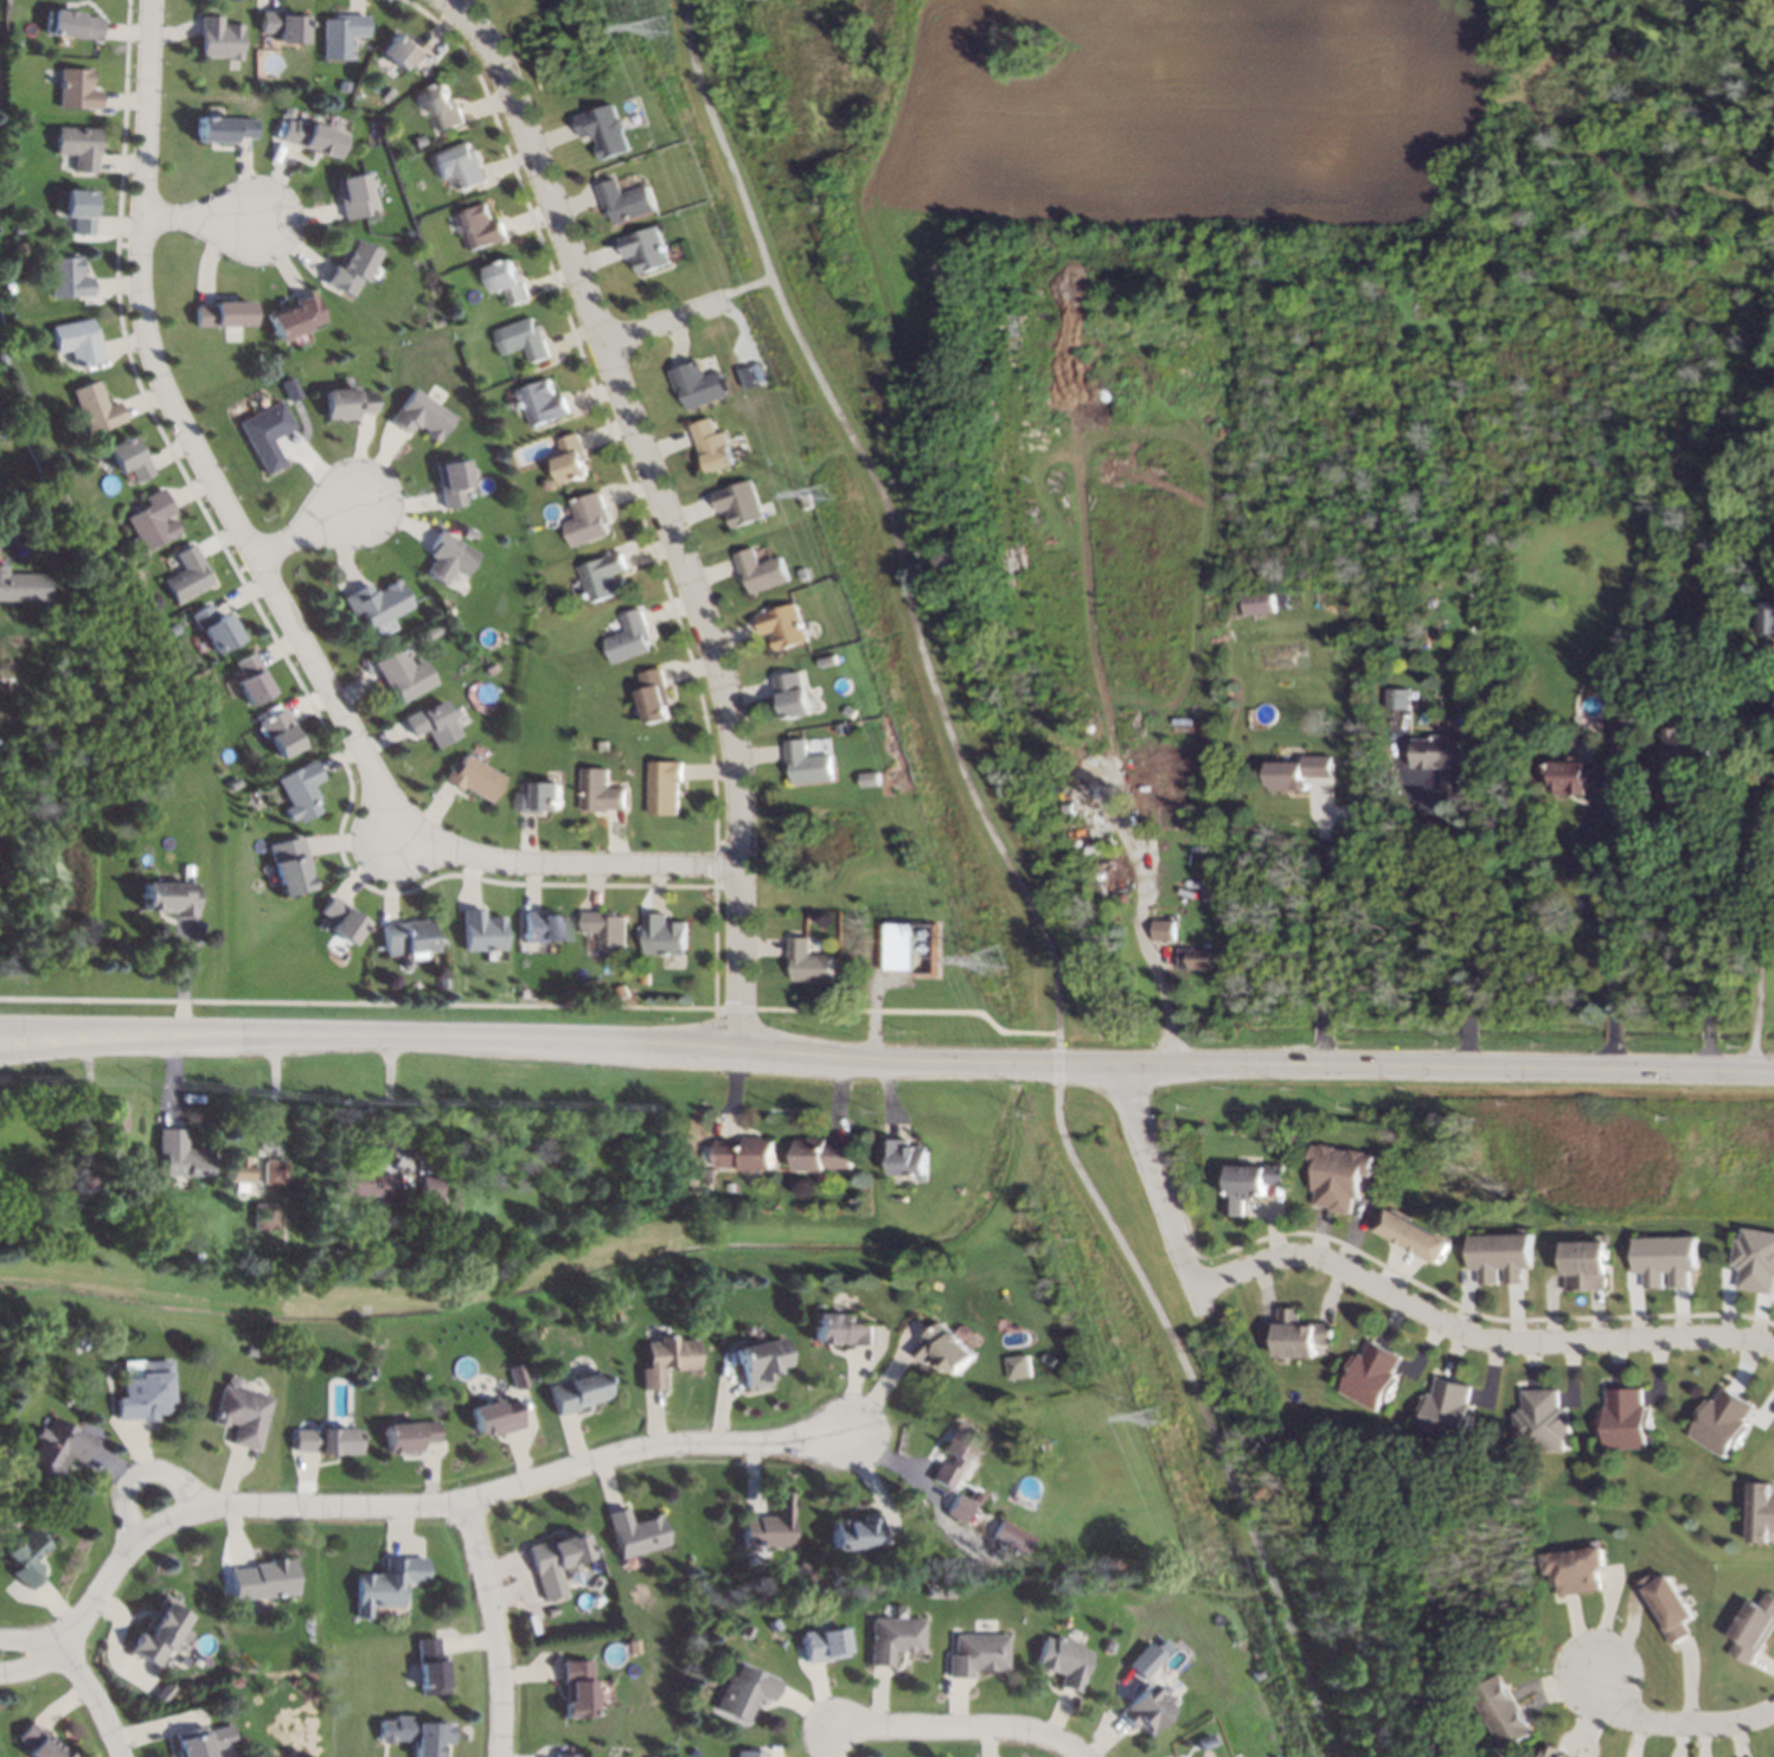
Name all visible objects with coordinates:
building: (70, 25)
building: (280, 25)
building: (339, 33)
building: (217, 38)
building: (401, 51)
building: (76, 90)
building: (385, 91)
building: (442, 108)
building: (284, 111)
building: (219, 129)
building: (606, 130)
building: (307, 137)
crop: (1120, 139)
building: (78, 147)
building: (460, 166)
building: (353, 197)
building: (626, 201)
building: (79, 211)
road: (205, 217)
building: (479, 227)
building: (19, 229)
building: (647, 249)
building: (350, 268)
building: (70, 278)
building: (507, 282)
road: (743, 286)
building: (224, 314)
building: (294, 316)
road: (661, 319)
building: (523, 340)
building: (79, 341)
building: (4, 359)
building: (697, 385)
building: (290, 389)
building: (346, 403)
building: (542, 404)
building: (510, 405)
building: (96, 409)
building: (420, 416)
building: (267, 434)
road: (199, 441)
building: (711, 447)
building: (570, 459)
building: (129, 460)
building: (449, 482)
building: (547, 485)
building: (806, 501)
building: (738, 504)
road: (664, 511)
road: (891, 514)
building: (585, 519)
road: (314, 521)
building: (150, 522)
park: (888, 524)
building: (446, 558)
building: (760, 570)
building: (801, 572)
building: (1768, 572)
building: (187, 575)
building: (602, 578)
building: (76, 583)
building: (24, 586)
building: (374, 603)
building: (1259, 603)
building: (1765, 620)
building: (783, 626)
building: (216, 628)
building: (174, 629)
building: (431, 630)
building: (630, 637)
building: (1654, 640)
building: (828, 661)
building: (489, 668)
building: (402, 674)
building: (251, 679)
building: (794, 694)
building: (655, 697)
building: (1398, 699)
building: (1763, 701)
building: (850, 712)
building: (430, 723)
building: (278, 733)
building: (1621, 733)
building: (602, 744)
building: (1683, 750)
building: (1441, 757)
building: (808, 763)
building: (1296, 772)
building: (1583, 776)
building: (472, 777)
building: (232, 784)
building: (666, 787)
building: (300, 791)
building: (601, 791)
building: (542, 797)
building: (1717, 815)
building: (1091, 847)
road: (576, 864)
building: (289, 865)
building: (187, 870)
road: (1567, 874)
road: (1755, 889)
road: (1474, 897)
building: (171, 898)
building: (1120, 898)
road: (1315, 915)
building: (815, 918)
building: (341, 921)
road: (1683, 921)
building: (542, 926)
building: (1159, 929)
building: (480, 931)
building: (608, 931)
building: (405, 936)
building: (664, 936)
building: (899, 947)
building: (1192, 958)
building: (811, 962)
building: (645, 979)
building: (623, 992)
building: (523, 994)
building: (530, 994)
road: (356, 1001)
road: (731, 1007)
road: (905, 1009)
road: (1466, 1030)
road: (1315, 1031)
road: (1610, 1033)
road: (1753, 1034)
road: (119, 1035)
road: (1706, 1037)
road: (119, 1045)
road: (1465, 1054)
road: (1315, 1056)
road: (1610, 1058)
road: (1753, 1058)
road: (1706, 1059)
road: (1005, 1065)
road: (1052, 1065)
road: (392, 1097)
building: (109, 1121)
building: (1283, 1142)
building: (179, 1154)
building: (744, 1154)
building: (822, 1154)
building: (903, 1155)
building: (236, 1171)
building: (271, 1171)
building: (1338, 1175)
building: (360, 1181)
building: (1250, 1184)
building: (428, 1185)
building: (87, 1186)
road: (1158, 1187)
building: (120, 1199)
building: (261, 1214)
building: (356, 1235)
building: (1415, 1236)
building: (405, 1256)
building: (1500, 1256)
building: (1665, 1259)
building: (1754, 1259)
building: (1586, 1264)
building: (840, 1329)
building: (1298, 1334)
road: (1473, 1334)
building: (944, 1348)
building: (667, 1359)
building: (1048, 1359)
building: (758, 1361)
building: (13, 1366)
building: (1019, 1366)
building: (532, 1372)
building: (517, 1376)
building: (1370, 1376)
park: (1200, 1385)
building: (146, 1391)
building: (578, 1391)
road: (1200, 1404)
building: (1445, 1412)
building: (239, 1415)
building: (495, 1416)
building: (1625, 1419)
building: (347, 1421)
building: (1541, 1422)
building: (1721, 1422)
building: (408, 1435)
building: (325, 1439)
building: (58, 1448)
building: (953, 1451)
road: (139, 1473)
building: (973, 1495)
road: (433, 1506)
building: (956, 1508)
building: (1762, 1512)
building: (769, 1524)
building: (635, 1532)
building: (853, 1532)
building: (1011, 1537)
building: (25, 1556)
building: (555, 1562)
building: (1578, 1569)
building: (261, 1578)
building: (385, 1583)
building: (930, 1590)
building: (949, 1590)
building: (1670, 1605)
building: (769, 1623)
road: (495, 1629)
building: (743, 1629)
building: (1754, 1629)
building: (155, 1634)
road: (33, 1637)
building: (891, 1637)
building: (820, 1644)
building: (632, 1646)
building: (975, 1654)
road: (34, 1659)
building: (1062, 1660)
building: (1145, 1660)
building: (428, 1667)
building: (1259, 1673)
building: (577, 1688)
building: (743, 1691)
road: (95, 1697)
building: (1145, 1708)
building: (1503, 1712)
road: (1676, 1723)
road: (962, 1724)
building: (393, 1729)
building: (429, 1738)
road: (830, 1739)
building: (199, 1740)
building: (1206, 1742)
building: (37, 1743)
road: (1328, 1746)
building: (1555, 1751)
building: (694, 1752)
building: (749, 1753)
building: (563, 1755)

